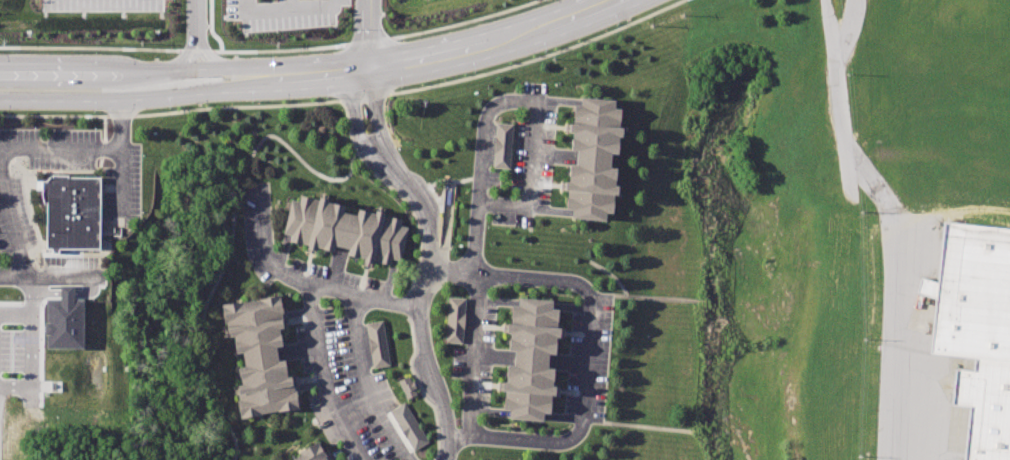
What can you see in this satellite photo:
road: (287, 4)
parking lot: (100, 5)
road: (284, 8)
parking lot: (277, 13)
road: (194, 16)
road: (364, 34)
road: (498, 46)
road: (181, 51)
road: (204, 53)
road: (189, 68)
road: (54, 70)
road: (316, 73)
road: (135, 98)
building: (502, 144)
road: (1, 156)
building: (600, 158)
road: (121, 163)
road: (481, 179)
parking lot: (120, 205)
building: (71, 211)
road: (893, 220)
road: (230, 228)
building: (347, 231)
road: (427, 254)
road: (52, 276)
road: (305, 286)
building: (972, 293)
building: (64, 319)
building: (455, 319)
road: (13, 328)
building: (377, 343)
road: (592, 347)
building: (263, 355)
building: (537, 357)
road: (325, 377)
road: (367, 383)
building: (407, 386)
building: (986, 408)
building: (408, 426)
building: (312, 455)

